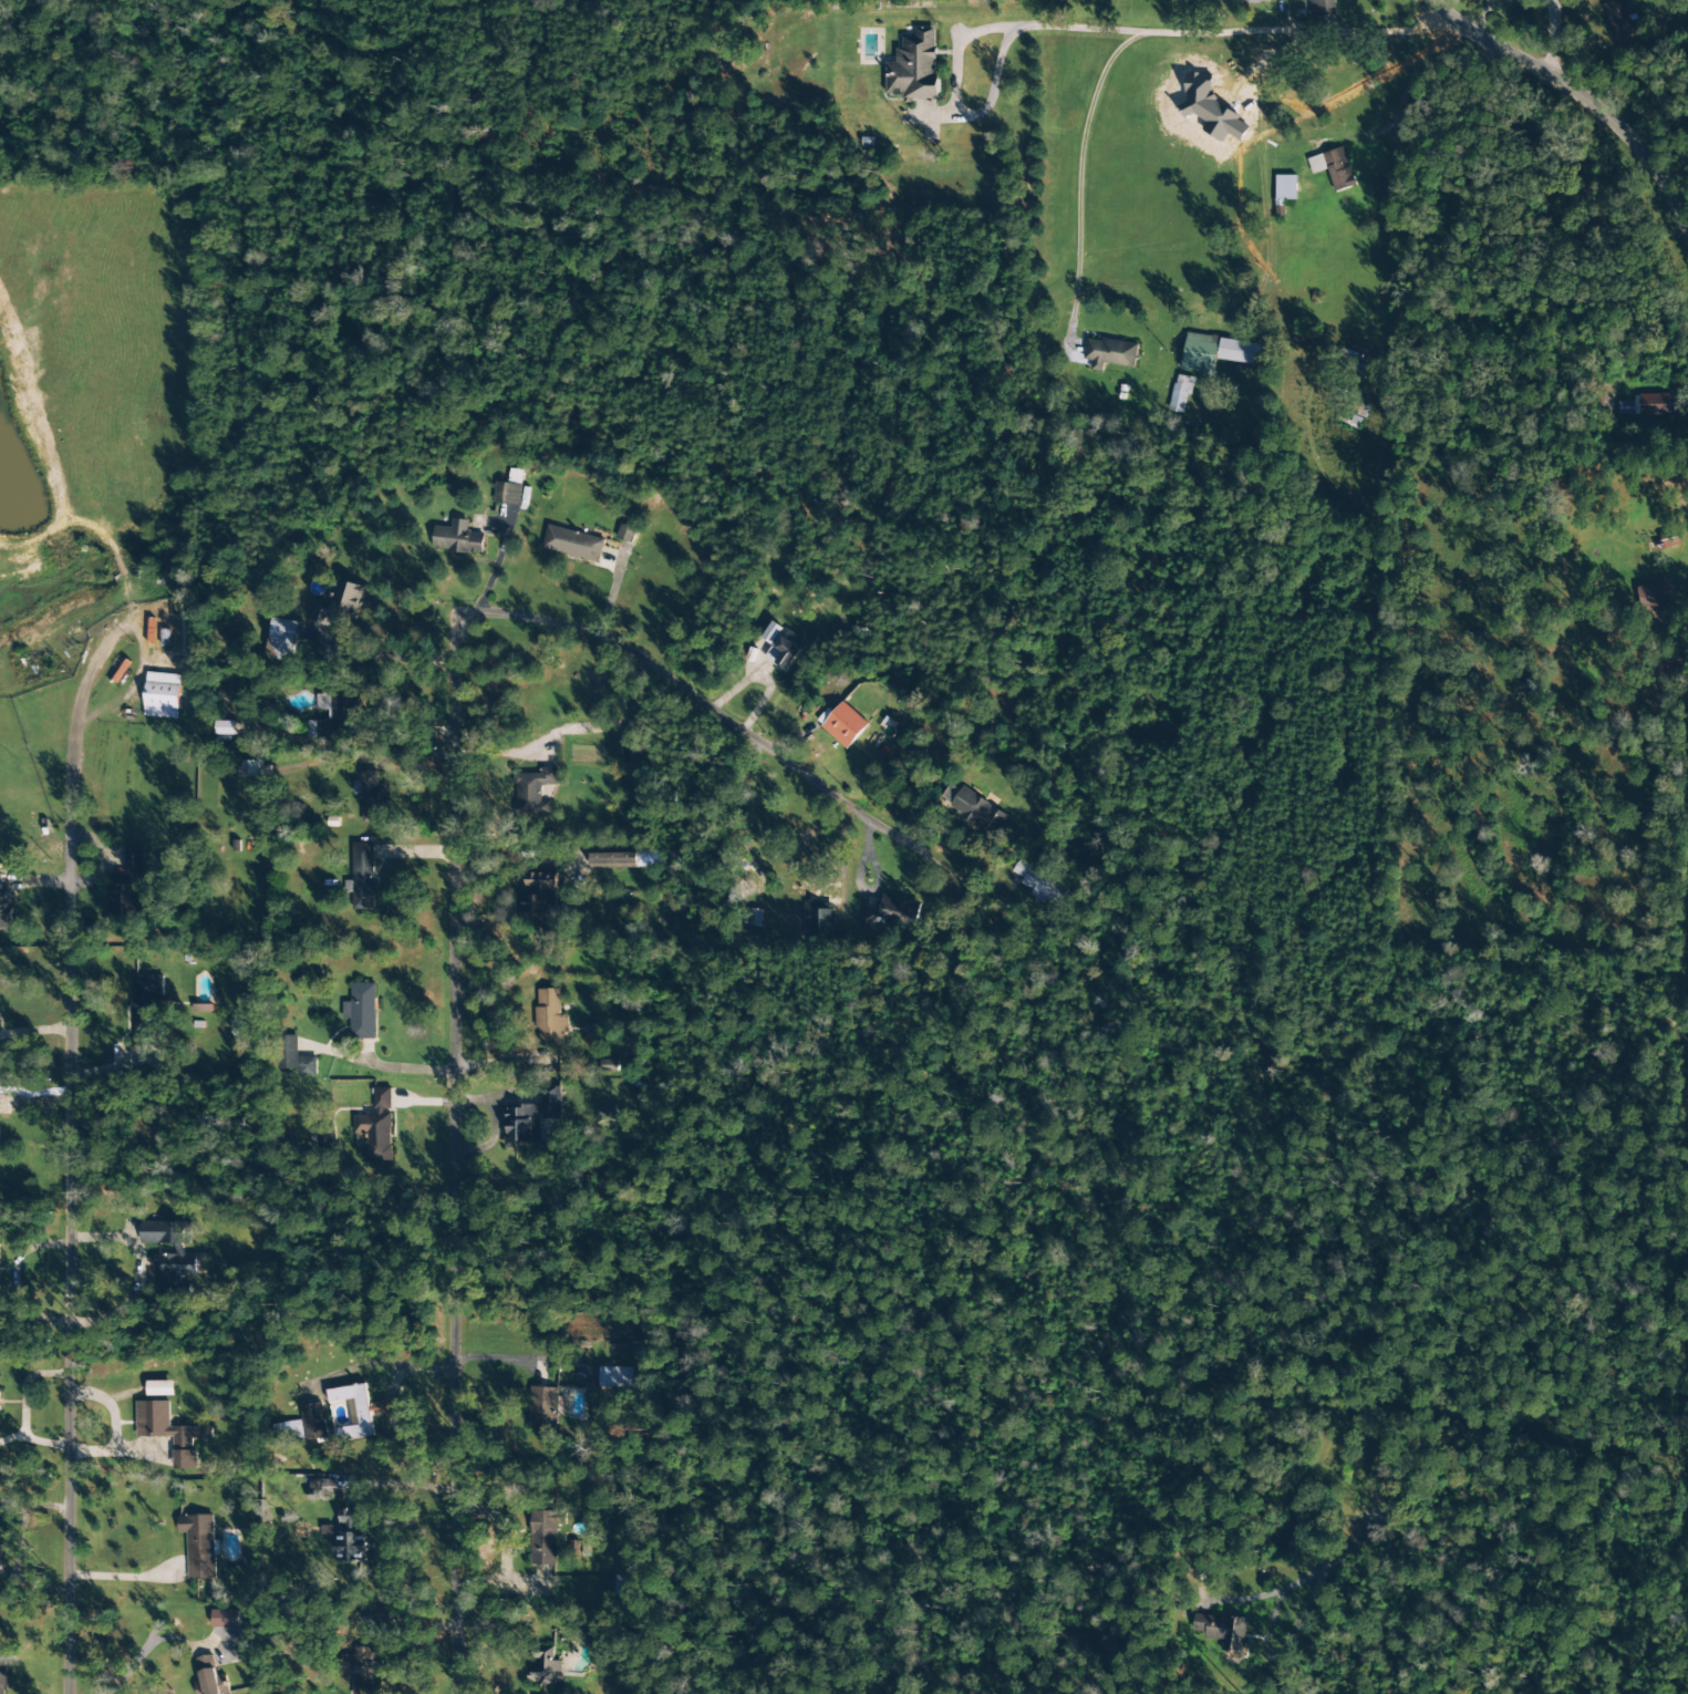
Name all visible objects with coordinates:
building: (1259, 1)
building: (1321, 6)
building: (1618, 23)
road: (1550, 40)
road: (960, 52)
road: (1111, 63)
building: (914, 66)
road: (1576, 90)
road: (942, 115)
building: (1334, 168)
road: (1387, 183)
building: (1285, 188)
building: (1108, 353)
building: (1216, 353)
building: (1352, 360)
building: (1180, 394)
building: (509, 489)
building: (625, 534)
building: (457, 538)
building: (1665, 541)
building: (573, 544)
building: (1655, 596)
building: (339, 606)
building: (770, 632)
building: (163, 633)
building: (282, 640)
building: (785, 650)
building: (1670, 662)
road: (684, 685)
building: (163, 695)
building: (335, 709)
building: (845, 725)
building: (225, 729)
building: (631, 748)
building: (253, 769)
building: (534, 792)
building: (371, 797)
building: (977, 812)
building: (614, 859)
building: (363, 878)
building: (1037, 885)
building: (128, 888)
building: (540, 897)
building: (891, 911)
building: (753, 918)
building: (819, 923)
building: (203, 1009)
building: (146, 1010)
building: (362, 1011)
building: (549, 1016)
building: (242, 1029)
building: (293, 1057)
building: (608, 1065)
building: (551, 1104)
building: (524, 1125)
building: (375, 1127)
road: (456, 1158)
building: (172, 1256)
road: (68, 1262)
building: (618, 1306)
building: (615, 1377)
building: (160, 1388)
building: (542, 1408)
building: (359, 1411)
building: (302, 1426)
building: (169, 1432)
building: (323, 1489)
building: (0, 1529)
building: (545, 1537)
building: (199, 1546)
road: (1477, 1552)
building: (226, 1619)
building: (1221, 1631)
building: (361, 1671)
building: (546, 1671)
building: (210, 1677)
building: (2, 1680)

